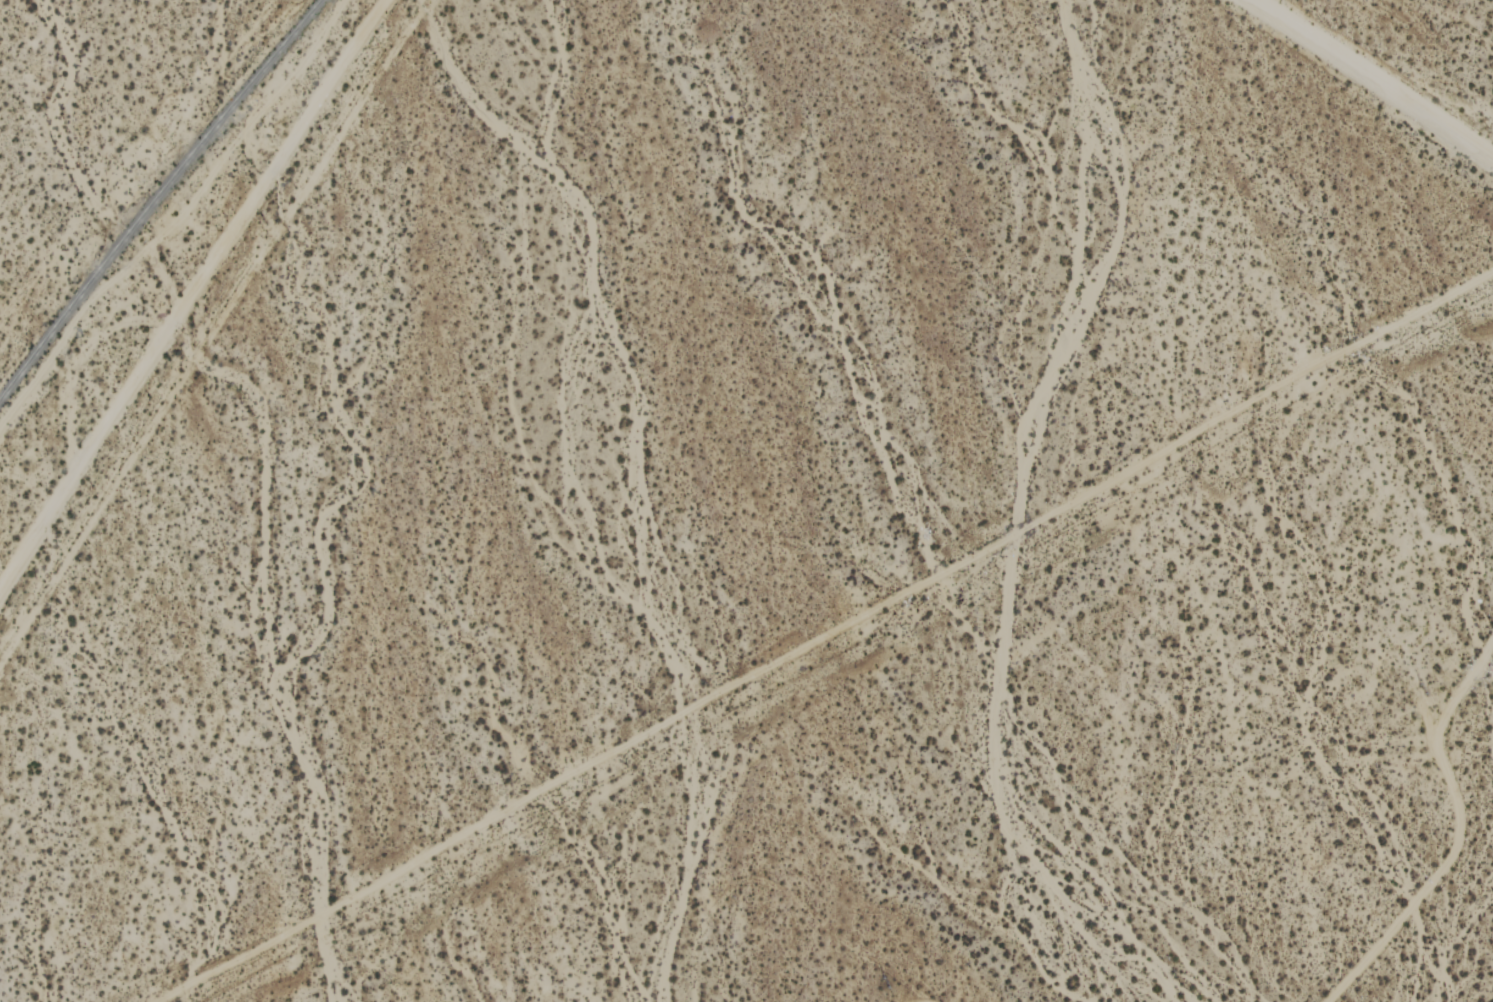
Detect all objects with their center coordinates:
road: (1367, 79)
railway: (159, 196)
road: (188, 291)
power tower: (1428, 689)
power tower: (882, 980)

